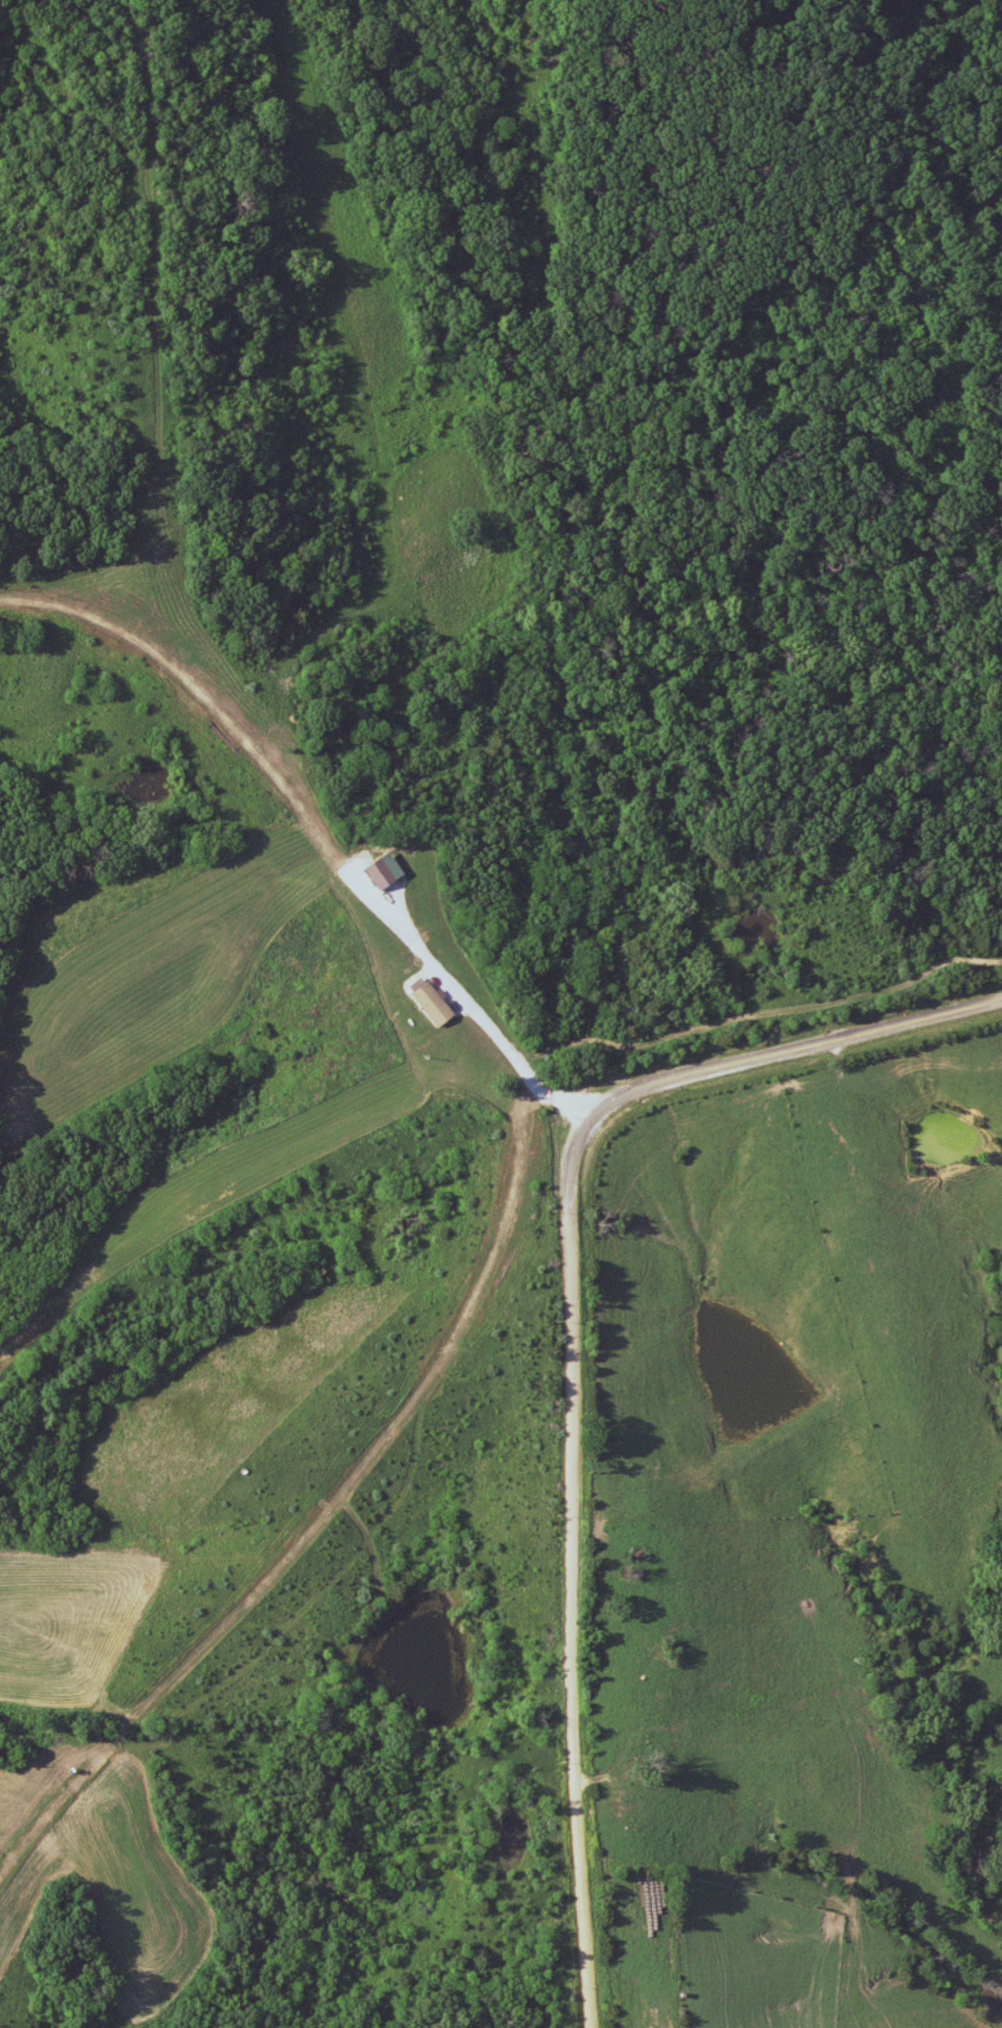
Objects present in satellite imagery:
building: (380, 870)
road: (469, 1016)
road: (754, 1057)
road: (568, 1607)

